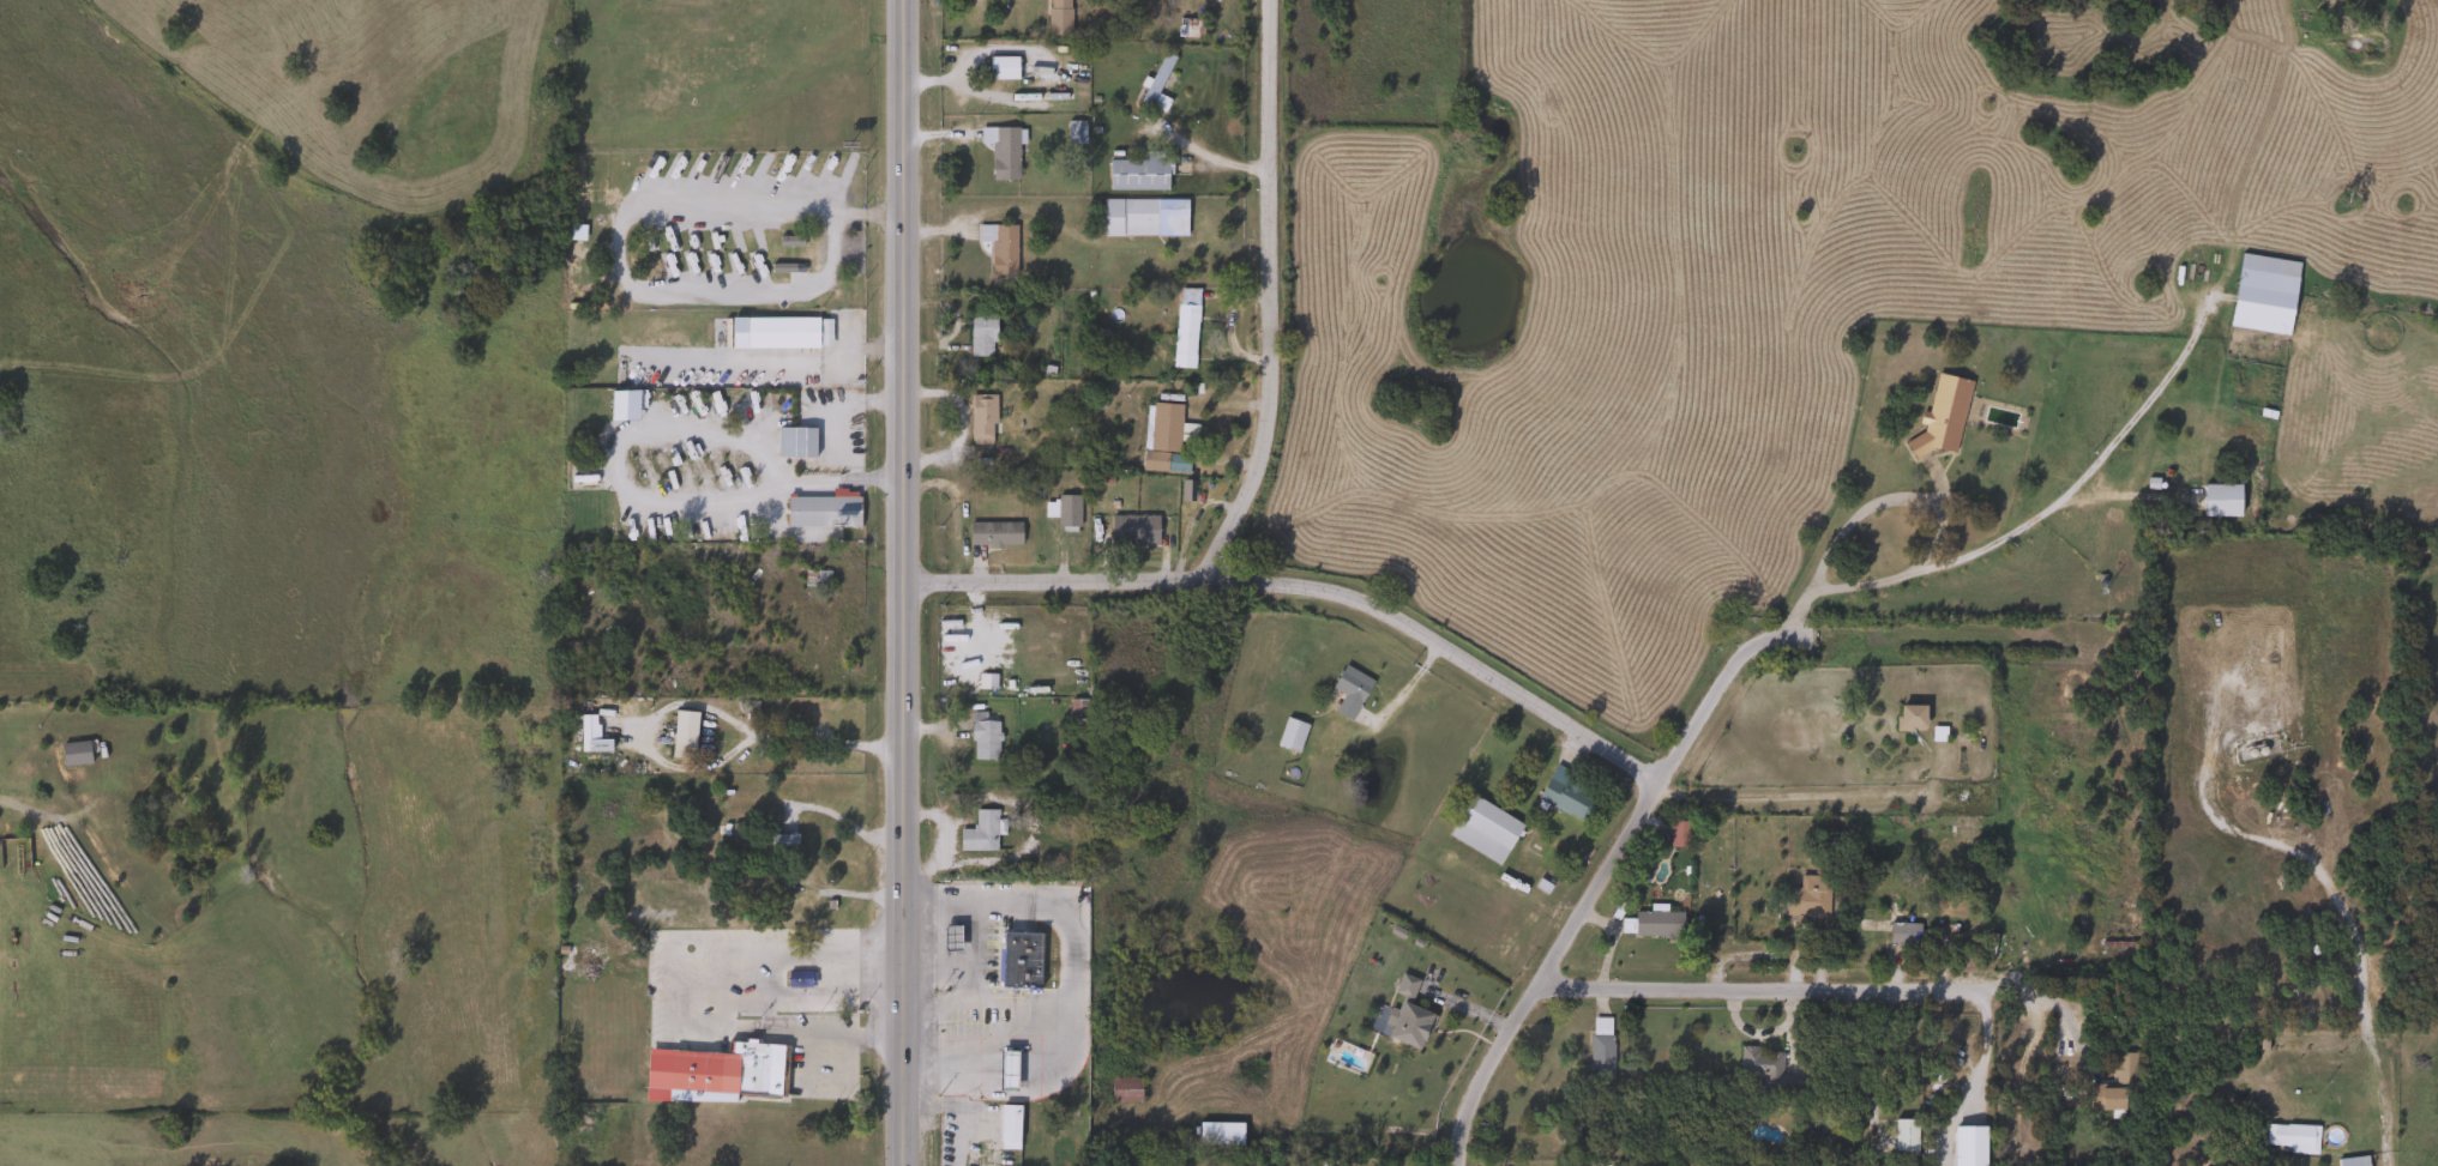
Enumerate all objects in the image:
building: (1057, 17)
building: (1000, 68)
building: (1155, 84)
building: (1003, 153)
road: (1215, 158)
building: (1139, 173)
building: (1143, 217)
road: (616, 242)
building: (998, 247)
building: (785, 265)
building: (766, 282)
road: (1270, 302)
building: (2262, 302)
building: (1182, 328)
building: (980, 334)
road: (820, 361)
building: (1940, 416)
building: (980, 419)
building: (1158, 435)
building: (794, 442)
road: (881, 483)
road: (694, 497)
building: (1065, 510)
building: (821, 513)
building: (1131, 531)
building: (992, 533)
road: (902, 582)
road: (1307, 587)
road: (1752, 647)
building: (1348, 691)
road: (698, 707)
building: (1074, 708)
building: (1909, 718)
building: (682, 735)
building: (1289, 735)
building: (589, 736)
building: (981, 737)
building: (73, 753)
building: (1564, 793)
road: (1813, 799)
building: (1483, 829)
building: (979, 833)
building: (1676, 833)
building: (782, 842)
road: (2329, 893)
building: (1805, 896)
building: (1878, 914)
building: (1649, 923)
building: (1902, 932)
building: (949, 937)
building: (992, 943)
road: (777, 950)
road: (1068, 963)
building: (797, 979)
road: (715, 991)
road: (1782, 992)
building: (1407, 1015)
road: (878, 1029)
building: (1597, 1050)
building: (1762, 1067)
building: (751, 1068)
building: (1122, 1089)
building: (2105, 1096)
road: (959, 1107)
road: (1362, 1128)
building: (1903, 1136)
building: (2289, 1137)
building: (980, 1141)
building: (2354, 1160)

